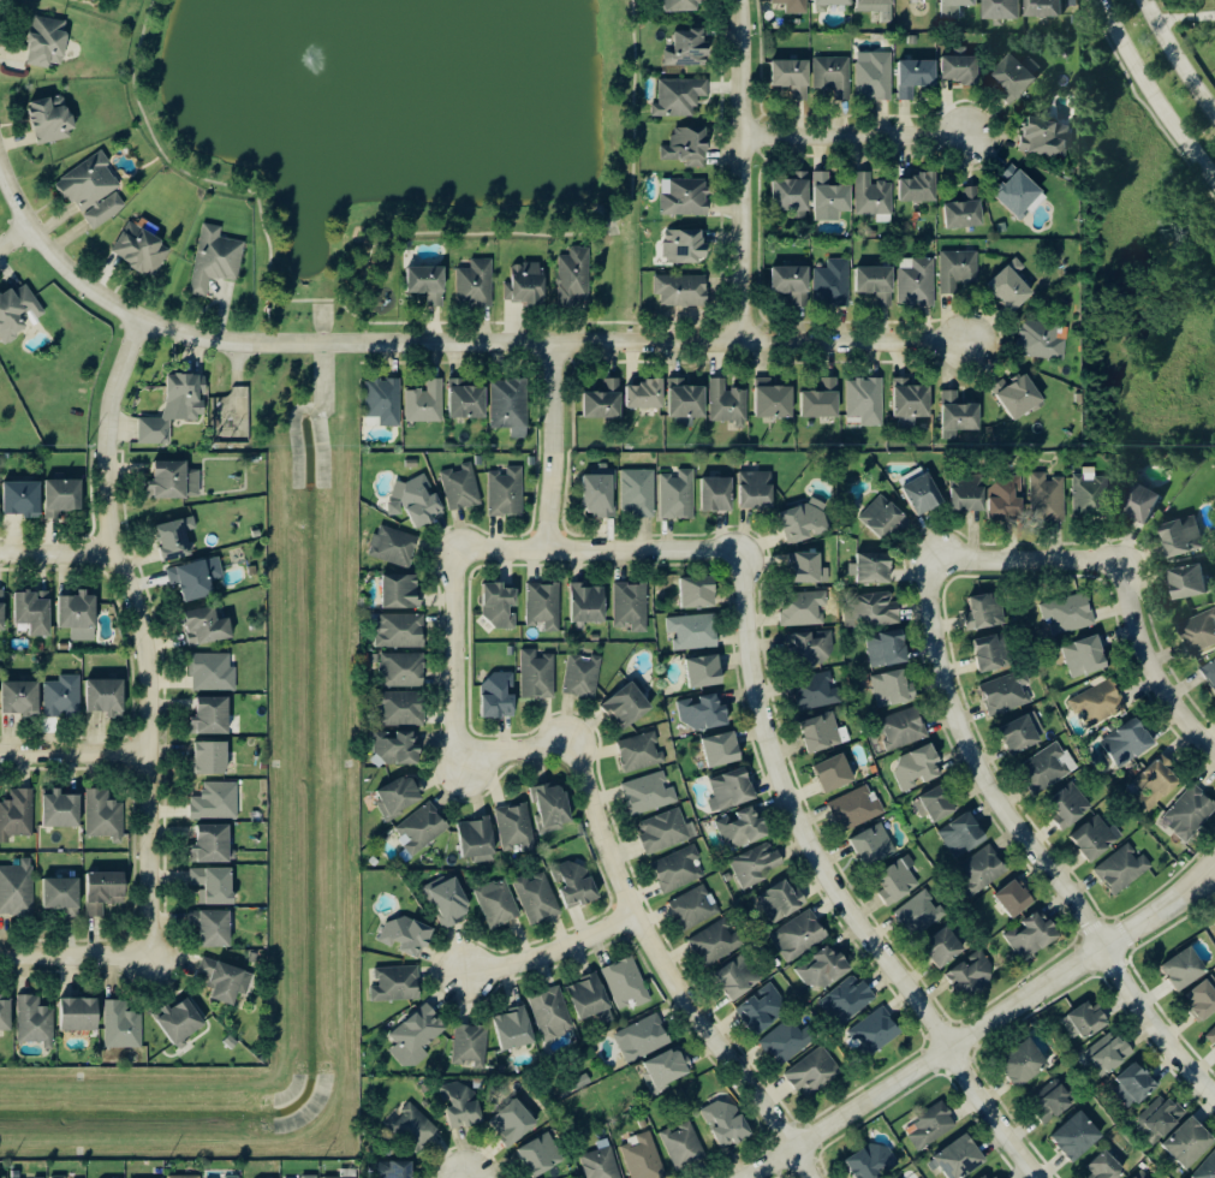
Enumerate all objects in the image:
building: (835, 2)
building: (879, 4)
building: (797, 5)
building: (678, 6)
building: (957, 7)
building: (1047, 7)
building: (1006, 8)
building: (49, 42)
building: (691, 48)
fountain: (311, 58)
road: (1177, 59)
building: (963, 69)
building: (921, 72)
building: (835, 75)
building: (1019, 75)
building: (794, 76)
building: (876, 76)
road: (1150, 96)
building: (680, 97)
road: (635, 113)
building: (53, 121)
building: (1046, 137)
road: (857, 141)
building: (689, 148)
road: (181, 169)
road: (743, 169)
building: (866, 188)
building: (919, 189)
building: (1014, 189)
building: (95, 191)
building: (794, 194)
building: (686, 198)
building: (832, 198)
building: (966, 212)
road: (611, 225)
building: (1001, 227)
road: (453, 232)
road: (12, 238)
building: (686, 246)
building: (143, 250)
building: (216, 260)
building: (959, 270)
building: (576, 275)
building: (834, 280)
building: (792, 281)
building: (918, 281)
building: (879, 282)
building: (429, 285)
building: (476, 285)
building: (528, 286)
building: (1012, 287)
building: (683, 291)
road: (272, 298)
road: (310, 299)
building: (18, 311)
road: (385, 322)
road: (434, 323)
road: (449, 341)
building: (1058, 349)
building: (647, 395)
building: (1020, 397)
building: (828, 399)
building: (912, 399)
building: (775, 400)
building: (385, 401)
building: (469, 401)
building: (606, 401)
building: (690, 401)
building: (866, 401)
building: (427, 403)
building: (728, 403)
building: (511, 407)
building: (177, 409)
building: (959, 416)
road: (554, 445)
building: (478, 460)
building: (531, 460)
building: (410, 464)
building: (175, 481)
building: (461, 488)
building: (757, 490)
building: (507, 492)
building: (638, 493)
building: (930, 493)
building: (719, 495)
building: (1091, 495)
building: (600, 496)
building: (678, 496)
building: (970, 496)
building: (1050, 496)
building: (64, 498)
building: (24, 500)
building: (417, 501)
building: (1007, 501)
building: (1144, 504)
building: (883, 518)
building: (804, 523)
building: (255, 534)
building: (180, 537)
building: (395, 547)
building: (1179, 547)
road: (598, 549)
road: (55, 554)
road: (1025, 566)
building: (808, 569)
building: (876, 570)
building: (198, 578)
building: (1191, 582)
building: (401, 593)
building: (699, 594)
building: (590, 605)
building: (501, 606)
building: (544, 607)
building: (632, 607)
building: (803, 609)
building: (2, 611)
building: (987, 613)
building: (35, 614)
building: (876, 615)
building: (1082, 615)
building: (81, 617)
building: (208, 627)
building: (400, 631)
building: (1201, 631)
building: (695, 632)
road: (136, 635)
building: (811, 645)
building: (62, 647)
building: (38, 648)
building: (889, 649)
building: (990, 655)
building: (1086, 658)
road: (1153, 667)
building: (403, 671)
building: (707, 672)
building: (1210, 672)
building: (213, 673)
building: (538, 676)
building: (899, 688)
building: (583, 690)
building: (103, 696)
building: (501, 696)
building: (1005, 696)
building: (64, 697)
building: (22, 700)
building: (1100, 704)
building: (404, 709)
building: (818, 713)
building: (703, 714)
building: (213, 718)
building: (905, 730)
building: (1130, 743)
building: (399, 749)
building: (723, 750)
building: (642, 752)
road: (72, 754)
building: (1036, 756)
building: (213, 758)
building: (918, 767)
building: (830, 774)
building: (1168, 781)
building: (733, 790)
building: (650, 793)
building: (403, 796)
building: (216, 802)
building: (940, 805)
building: (856, 810)
building: (554, 811)
building: (1191, 814)
building: (1072, 815)
building: (17, 816)
building: (106, 816)
road: (598, 825)
building: (517, 828)
building: (422, 829)
building: (744, 829)
building: (973, 831)
building: (666, 832)
building: (1096, 839)
building: (481, 841)
building: (213, 846)
building: (874, 846)
road: (1031, 850)
building: (990, 865)
building: (755, 867)
building: (679, 869)
building: (1122, 869)
road: (1208, 883)
building: (579, 885)
building: (898, 885)
building: (214, 886)
road: (833, 888)
building: (17, 890)
building: (105, 892)
building: (62, 894)
building: (787, 898)
building: (537, 899)
building: (1017, 900)
building: (449, 902)
building: (498, 904)
building: (695, 909)
building: (919, 915)
building: (216, 930)
building: (803, 934)
building: (409, 938)
building: (1037, 938)
building: (715, 944)
road: (553, 950)
road: (73, 957)
building: (824, 969)
building: (1186, 970)
building: (972, 975)
building: (738, 978)
building: (225, 981)
building: (397, 984)
building: (611, 990)
building: (850, 1001)
building: (1202, 1004)
building: (762, 1013)
building: (6, 1016)
building: (82, 1016)
building: (1090, 1021)
building: (180, 1022)
building: (536, 1022)
building: (36, 1023)
building: (123, 1027)
building: (877, 1029)
road: (982, 1029)
building: (416, 1037)
building: (1211, 1039)
building: (643, 1040)
building: (787, 1043)
building: (475, 1048)
building: (1110, 1053)
building: (1026, 1064)
building: (668, 1069)
building: (812, 1072)
building: (1138, 1083)
building: (487, 1114)
building: (1097, 1117)
building: (1165, 1117)
building: (727, 1123)
building: (416, 1125)
building: (934, 1126)
building: (1079, 1136)
building: (1191, 1143)
building: (681, 1144)
building: (542, 1155)
building: (644, 1158)
building: (961, 1158)
building: (874, 1161)
building: (600, 1164)
building: (1109, 1166)
building: (395, 1170)
building: (1207, 1170)
building: (2, 1174)
building: (994, 1176)
building: (1140, 1176)
building: (59, 1177)
building: (186, 1177)
building: (232, 1177)
building: (310, 1177)
building: (344, 1177)

